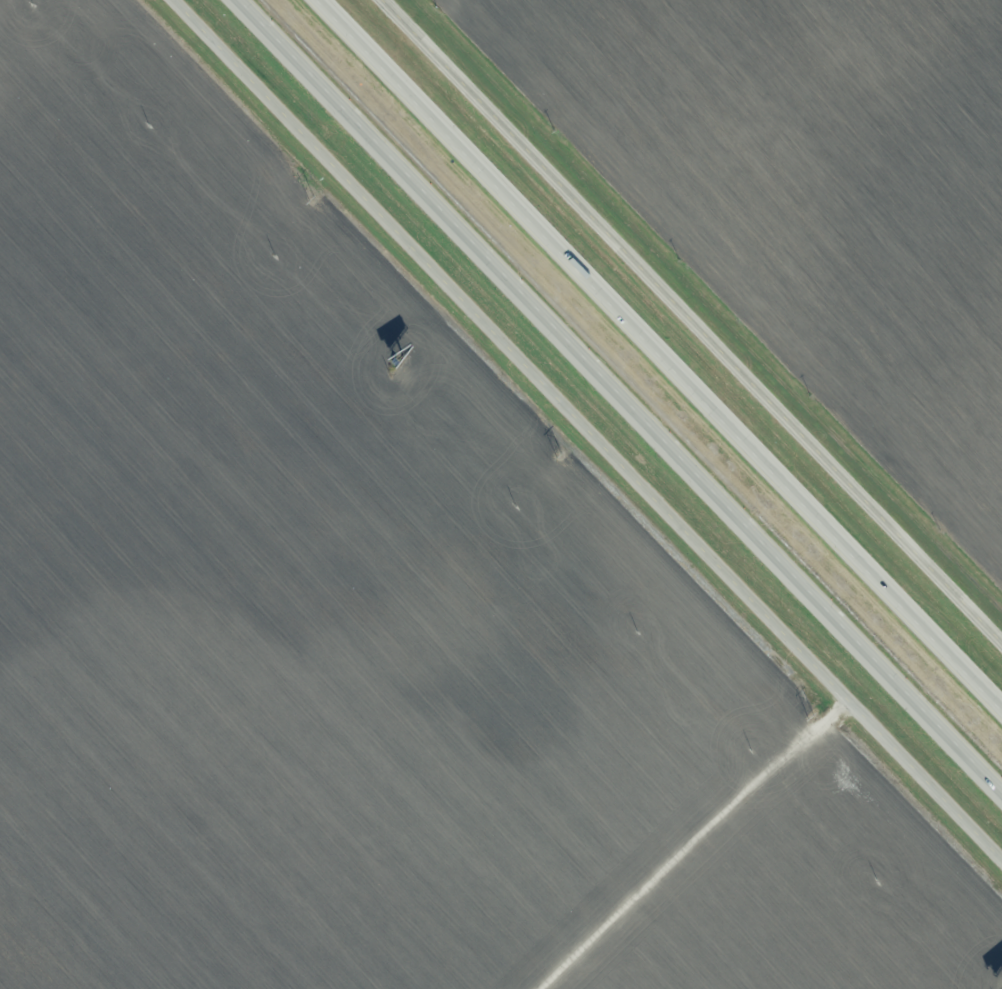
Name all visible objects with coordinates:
power tower: (313, 200)
road: (695, 317)
road: (659, 353)
road: (620, 395)
road: (587, 430)
power tower: (559, 455)
power tower: (811, 716)

